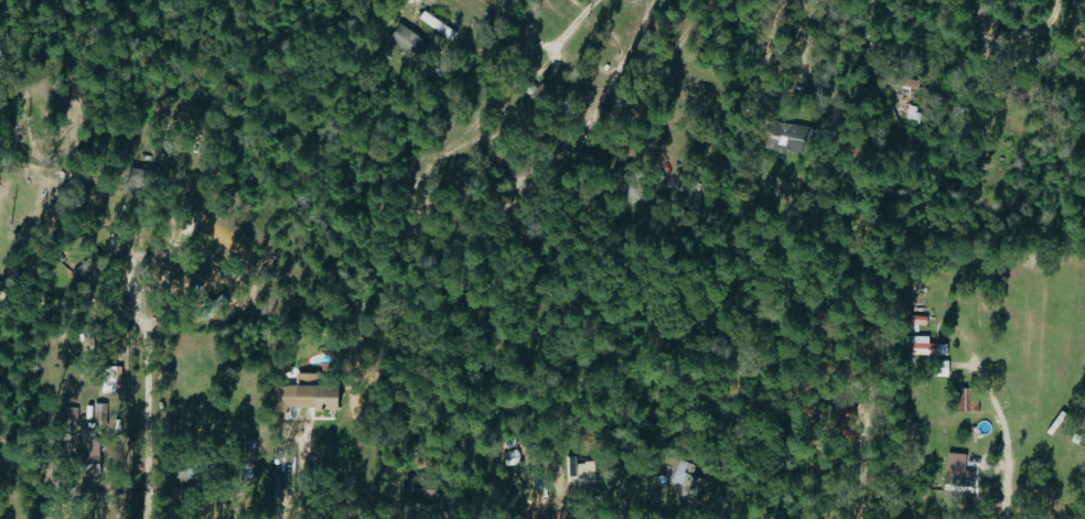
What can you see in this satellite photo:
road: (775, 18)
road: (572, 26)
road: (1072, 29)
building: (408, 40)
road: (651, 80)
road: (785, 90)
building: (795, 139)
road: (73, 313)
building: (941, 368)
building: (318, 393)
building: (964, 399)
road: (144, 424)
building: (95, 432)
road: (60, 462)
building: (953, 468)
road: (298, 469)
building: (198, 472)
building: (580, 472)
building: (685, 476)
building: (420, 488)

